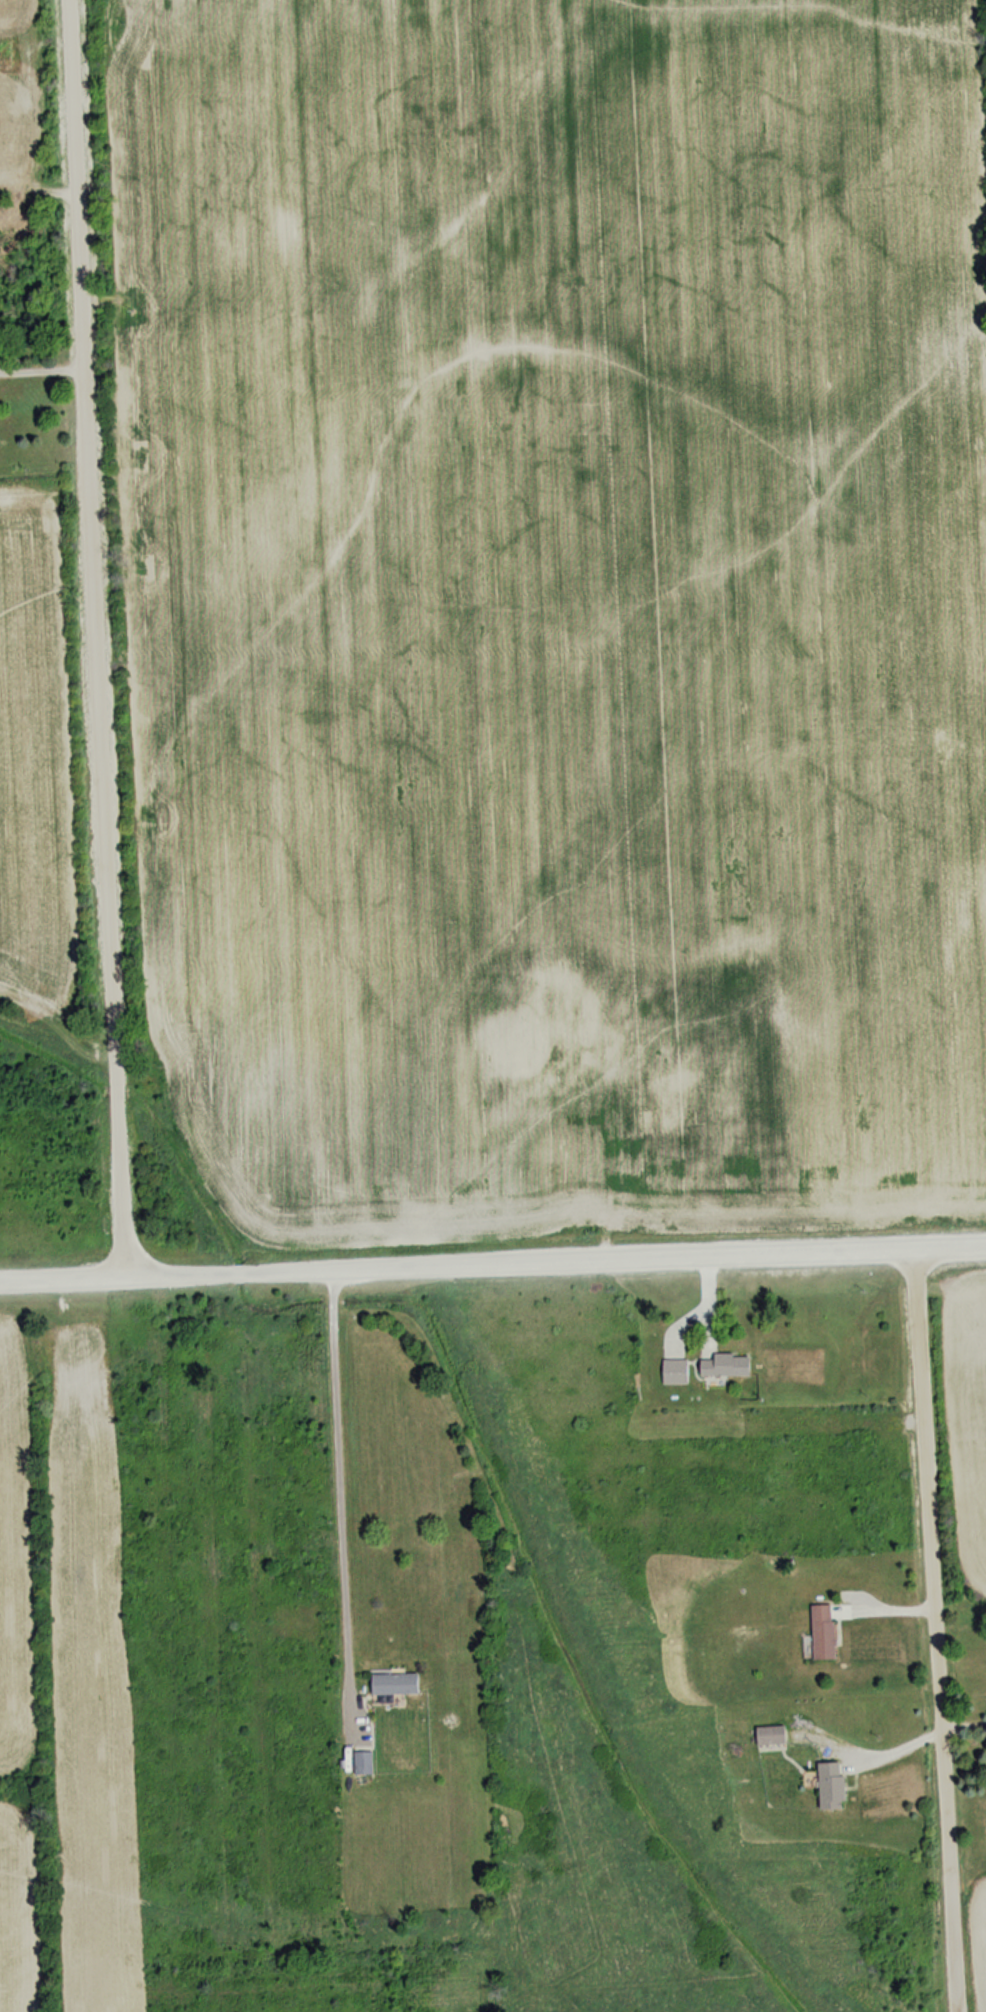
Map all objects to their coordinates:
road: (41, 365)
road: (94, 640)
road: (492, 1265)
building: (719, 1365)
road: (341, 1491)
road: (933, 1631)
building: (818, 1633)
building: (391, 1684)
building: (766, 1736)
building: (827, 1786)

